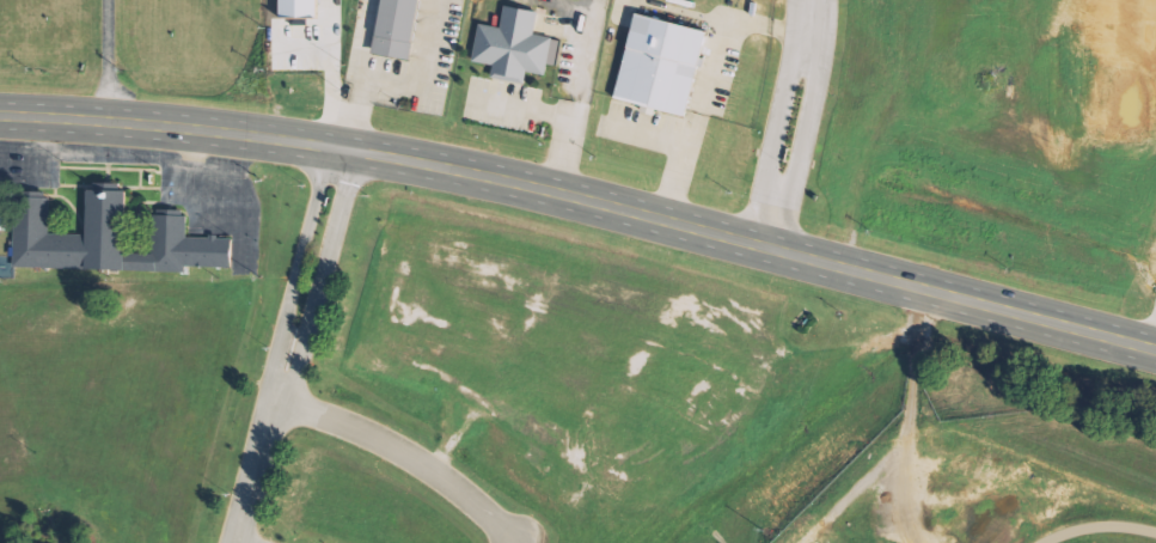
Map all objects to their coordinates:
building: (300, 10)
building: (399, 29)
building: (516, 47)
building: (662, 66)
road: (396, 83)
road: (790, 123)
road: (583, 200)
building: (115, 237)
road: (304, 248)
road: (331, 255)
road: (1154, 340)
airport: (526, 403)
road: (264, 449)
road: (409, 454)
road: (243, 542)

